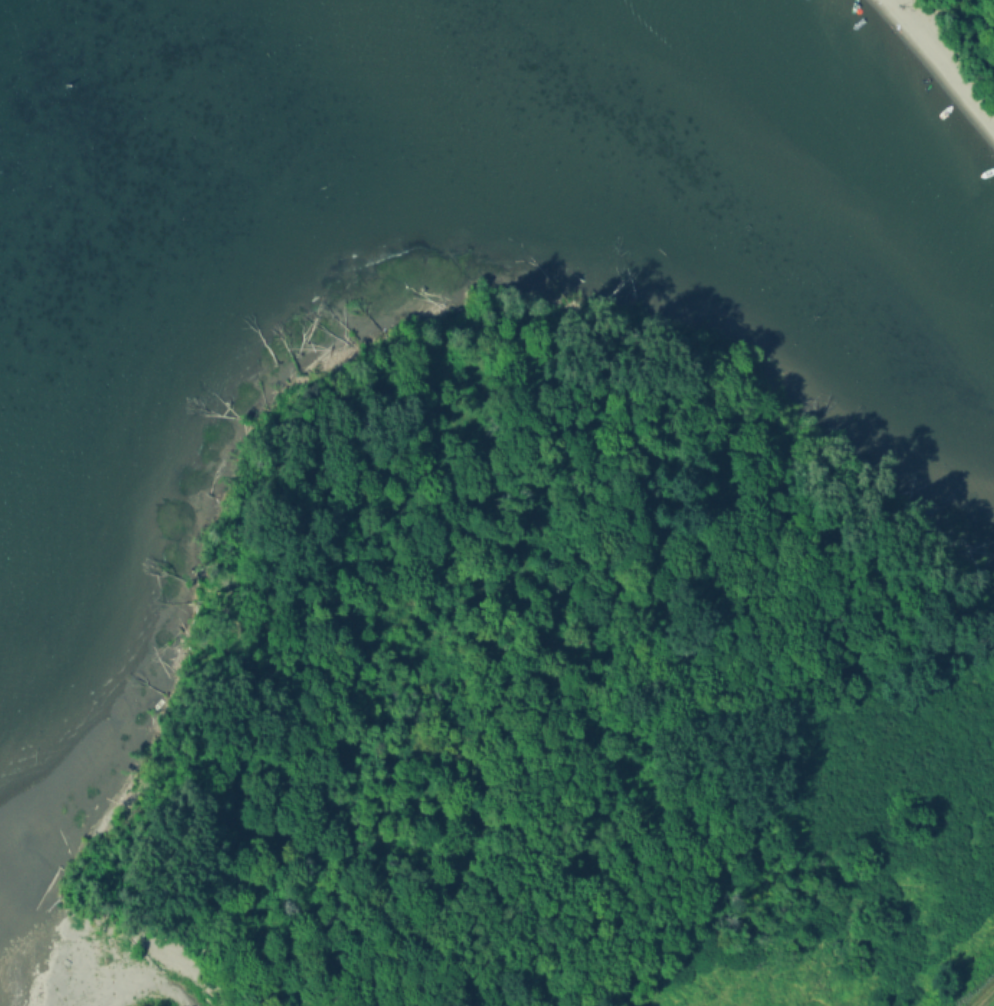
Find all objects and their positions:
river: (801, 183)
road: (984, 996)

